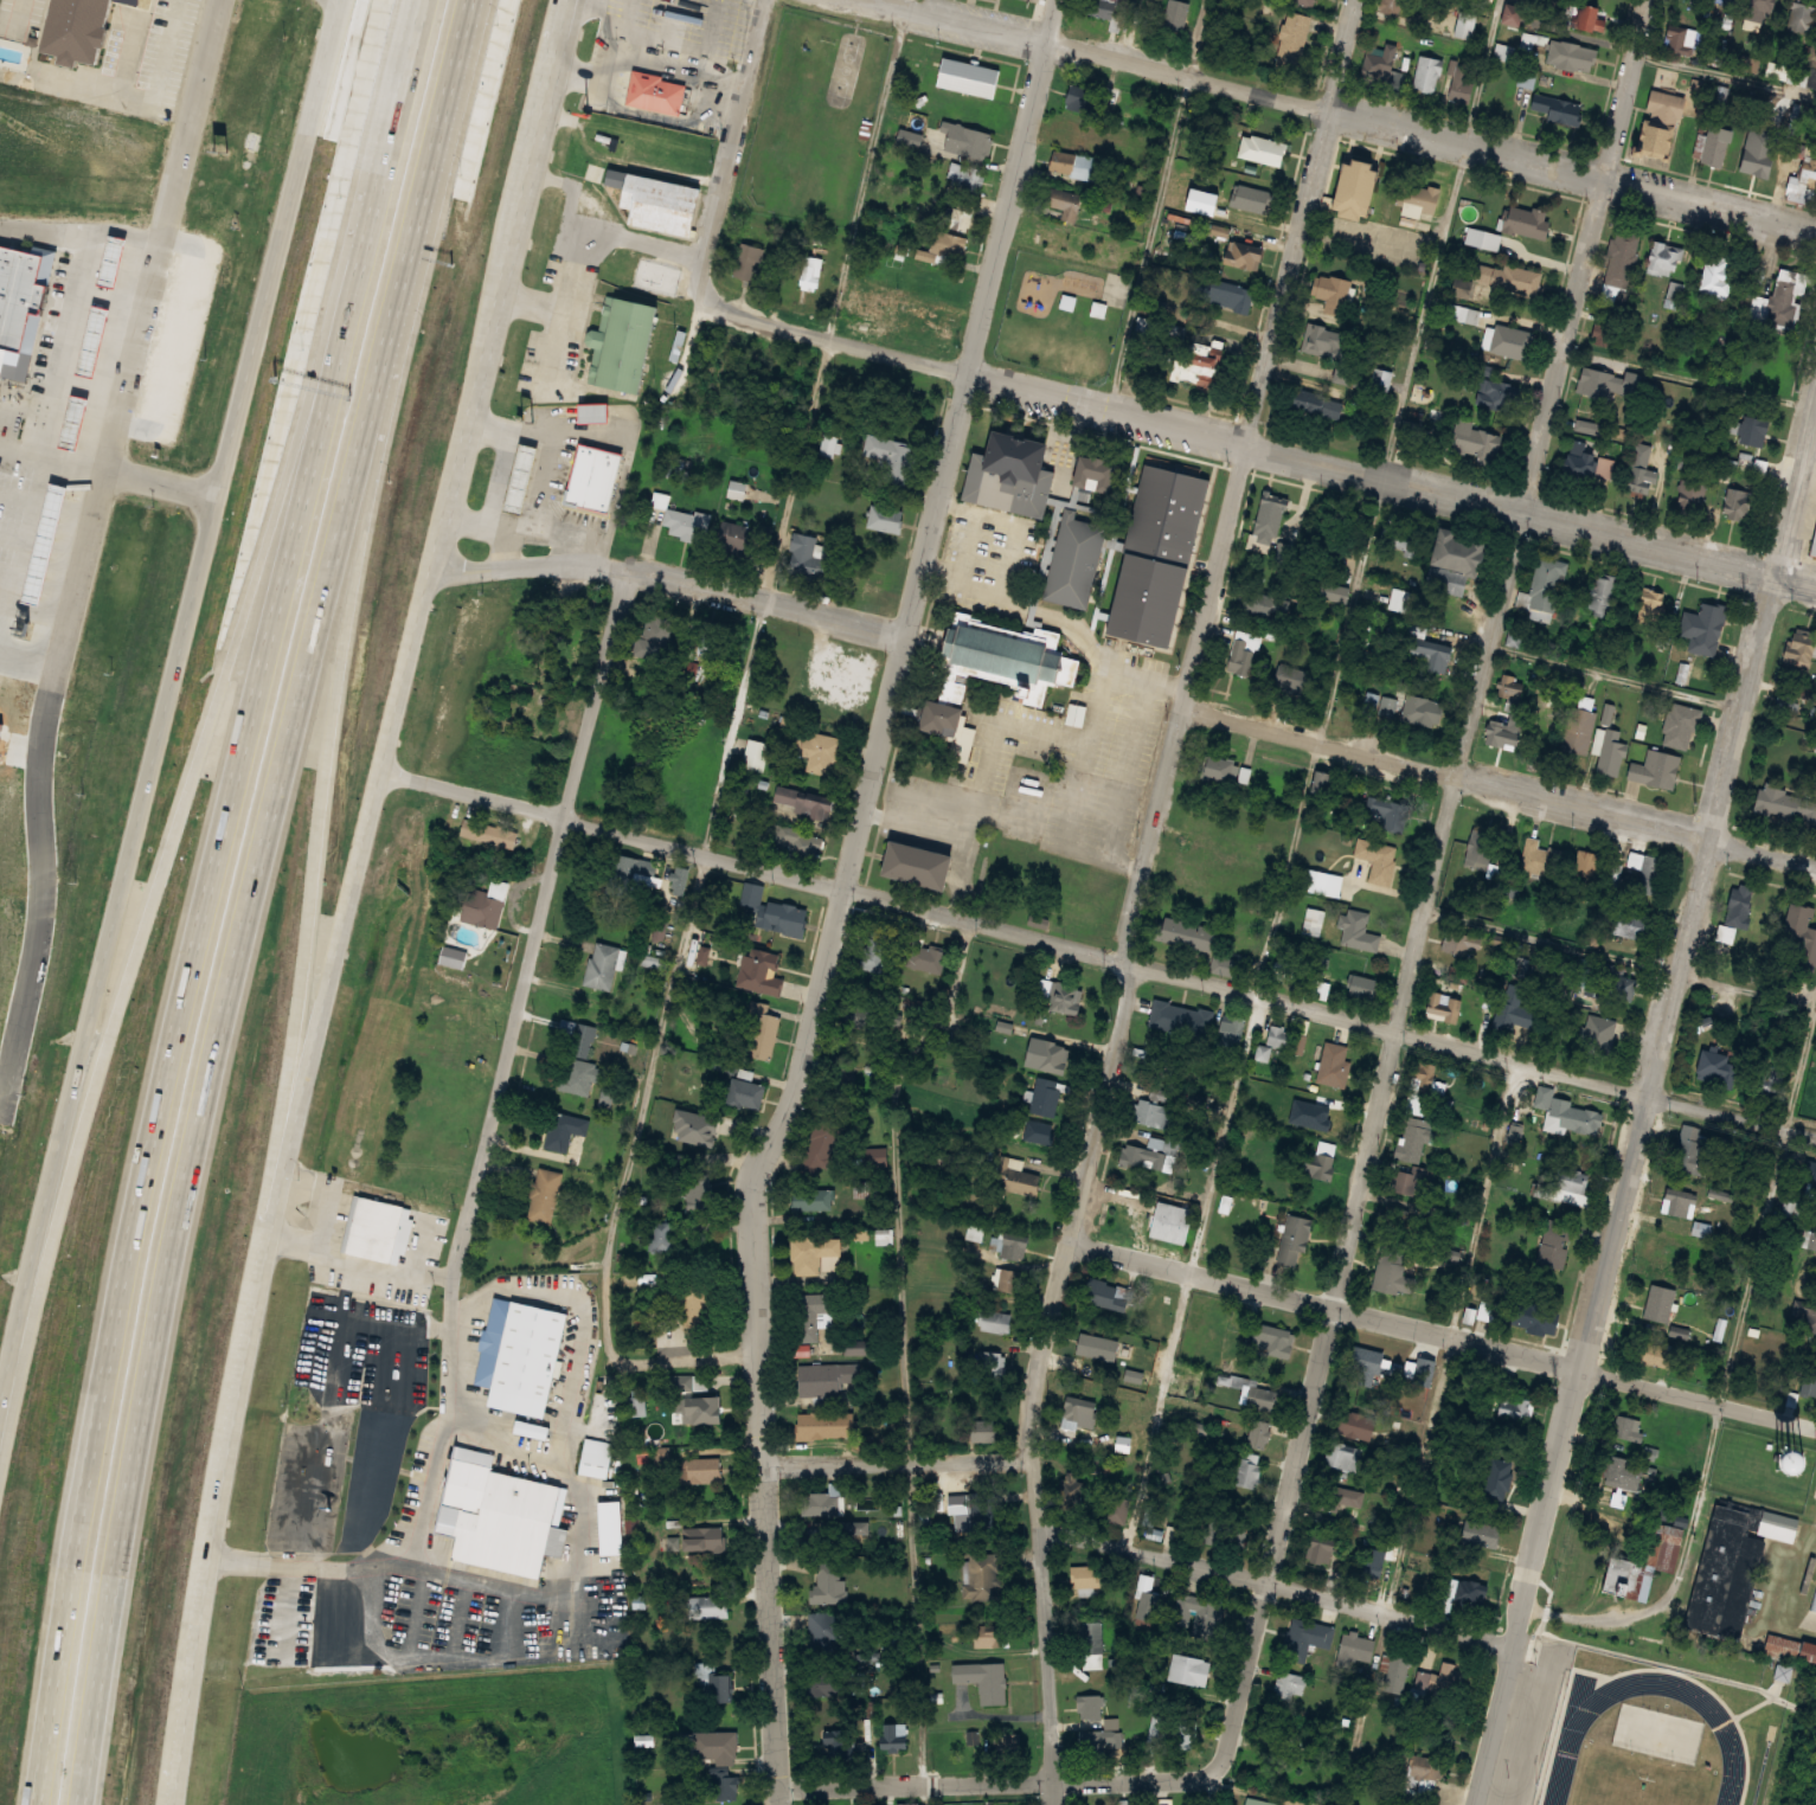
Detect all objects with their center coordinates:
building: (1033, 0)
building: (1390, 6)
building: (1102, 8)
building: (1508, 14)
building: (1795, 15)
building: (1179, 17)
building: (1585, 19)
road: (31, 20)
road: (1047, 20)
building: (1463, 25)
building: (96, 32)
building: (1677, 37)
building: (1294, 38)
road: (413, 39)
building: (1529, 40)
building: (1568, 56)
road: (1343, 57)
park: (845, 66)
building: (1384, 75)
building: (1425, 75)
road: (1726, 75)
building: (1811, 77)
building: (970, 78)
building: (1458, 81)
road: (551, 89)
road: (1626, 90)
building: (653, 92)
building: (1083, 101)
road: (160, 103)
building: (1663, 104)
building: (1553, 107)
road: (1345, 116)
park: (807, 121)
building: (910, 139)
building: (1653, 139)
building: (969, 140)
building: (617, 143)
building: (1715, 146)
road: (727, 149)
building: (1265, 150)
building: (1752, 161)
building: (1076, 165)
park: (776, 174)
building: (967, 178)
building: (1802, 184)
building: (1348, 187)
building: (1414, 198)
building: (1250, 199)
building: (657, 203)
road: (1157, 206)
building: (1066, 207)
building: (955, 219)
building: (1525, 223)
road: (78, 230)
building: (948, 246)
building: (1239, 257)
building: (1663, 257)
building: (122, 261)
gas station: (122, 261)
building: (745, 262)
building: (1619, 264)
building: (810, 274)
building: (1504, 276)
building: (1714, 276)
building: (1331, 293)
building: (1674, 293)
building: (1231, 296)
building: (28, 297)
building: (1777, 300)
park: (1061, 314)
building: (1467, 314)
building: (935, 319)
building: (1161, 327)
building: (1608, 329)
building: (1322, 339)
building: (104, 340)
gas station: (104, 340)
building: (623, 341)
building: (1513, 341)
road: (76, 343)
road: (129, 343)
building: (1192, 368)
building: (1384, 379)
road: (1689, 379)
building: (1600, 383)
power tower: (1801, 390)
building: (1320, 405)
building: (597, 413)
parking lot: (19, 417)
building: (85, 420)
gas station: (85, 420)
building: (1591, 426)
building: (1751, 430)
road: (576, 433)
building: (1474, 438)
building: (832, 447)
road: (1256, 449)
road: (514, 454)
road: (49, 456)
building: (893, 458)
building: (1589, 463)
building: (1750, 463)
building: (1642, 470)
building: (1007, 476)
building: (525, 478)
gas station: (525, 478)
building: (596, 478)
road: (547, 481)
road: (162, 482)
building: (738, 490)
building: (1689, 500)
building: (1738, 503)
building: (886, 521)
building: (1265, 523)
building: (687, 525)
road: (514, 528)
building: (1400, 537)
building: (739, 538)
building: (1814, 542)
road: (586, 548)
road: (506, 550)
building: (1157, 554)
building: (809, 555)
building: (1072, 560)
building: (1450, 563)
road: (669, 580)
building: (1545, 585)
building: (1604, 595)
power tower: (1750, 597)
building: (1650, 608)
building: (1702, 627)
building: (710, 638)
building: (649, 641)
building: (1801, 645)
building: (1426, 649)
building: (1244, 651)
building: (1006, 659)
building: (1292, 679)
road: (1618, 679)
building: (1412, 708)
road: (169, 712)
building: (935, 717)
building: (1680, 726)
building: (1578, 730)
building: (1503, 734)
building: (1611, 751)
building: (821, 753)
building: (756, 754)
road: (723, 757)
building: (1224, 769)
building: (1655, 769)
road: (1314, 775)
road: (194, 783)
road: (327, 786)
road: (1497, 786)
power tower: (1699, 802)
building: (807, 804)
building: (1784, 804)
building: (1194, 822)
building: (469, 829)
building: (798, 844)
building: (1480, 848)
building: (1540, 857)
building: (1378, 859)
building: (907, 863)
building: (1586, 863)
building: (1645, 871)
building: (1185, 872)
building: (622, 875)
building: (1323, 882)
road: (252, 897)
road: (353, 897)
road: (41, 899)
building: (1738, 904)
building: (480, 908)
building: (1077, 913)
road: (832, 917)
building: (787, 918)
building: (1628, 923)
building: (1360, 930)
building: (1183, 932)
road: (203, 937)
building: (1799, 940)
building: (1457, 943)
road: (532, 948)
building: (874, 951)
road: (1130, 952)
road: (1097, 955)
road: (1622, 956)
building: (925, 958)
building: (1521, 965)
building: (603, 966)
building: (1283, 969)
building: (761, 971)
road: (1412, 974)
power tower: (1655, 976)
building: (1616, 981)
building: (1362, 985)
building: (1320, 989)
building: (1444, 1006)
building: (865, 1017)
building: (1181, 1019)
building: (1232, 1029)
building: (1600, 1032)
building: (763, 1035)
building: (1277, 1036)
building: (1052, 1055)
building: (580, 1064)
building: (1334, 1064)
building: (839, 1072)
building: (747, 1096)
building: (1046, 1096)
building: (1416, 1103)
building: (1153, 1113)
building: (1574, 1116)
road: (1644, 1116)
building: (1038, 1130)
building: (565, 1131)
building: (820, 1139)
building: (1413, 1141)
building: (1694, 1149)
building: (873, 1156)
building: (1143, 1156)
building: (590, 1157)
building: (1320, 1160)
power tower: (1606, 1173)
building: (1019, 1177)
building: (1810, 1178)
building: (1401, 1182)
building: (1571, 1186)
building: (868, 1187)
building: (698, 1193)
building: (545, 1196)
building: (809, 1199)
building: (1680, 1201)
building: (1227, 1203)
building: (1399, 1219)
building: (1169, 1221)
building: (377, 1231)
building: (662, 1238)
building: (1294, 1240)
building: (1810, 1240)
building: (1555, 1242)
road: (422, 1246)
building: (1009, 1247)
building: (1664, 1247)
building: (810, 1253)
building: (1391, 1264)
building: (1009, 1279)
building: (1658, 1303)
building: (693, 1305)
building: (1810, 1308)
building: (811, 1313)
road: (1745, 1315)
building: (1534, 1316)
building: (995, 1321)
road: (1444, 1335)
building: (1272, 1341)
building: (1098, 1347)
building: (1651, 1353)
road: (909, 1355)
building: (999, 1362)
building: (1368, 1364)
building: (824, 1376)
road: (339, 1379)
power tower: (1559, 1387)
building: (1258, 1396)
building: (695, 1399)
building: (1515, 1407)
building: (1353, 1424)
building: (822, 1425)
building: (533, 1430)
building: (1628, 1430)
road: (381, 1433)
building: (1259, 1433)
road: (1431, 1434)
water tower: (1792, 1456)
building: (1346, 1457)
building: (595, 1458)
road: (896, 1462)
building: (702, 1471)
building: (1249, 1471)
building: (1622, 1473)
building: (1499, 1477)
building: (1339, 1497)
building: (816, 1503)
building: (1661, 1512)
building: (509, 1516)
building: (1773, 1520)
building: (1240, 1529)
building: (1481, 1533)
building: (704, 1539)
building: (821, 1539)
building: (1317, 1553)
road: (428, 1555)
building: (1644, 1562)
building: (983, 1575)
building: (1089, 1576)
building: (827, 1582)
road: (1277, 1585)
building: (1727, 1591)
building: (1146, 1597)
building: (1215, 1600)
building: (706, 1607)
power tower: (1503, 1615)
building: (1814, 1617)
road: (1598, 1619)
building: (826, 1630)
building: (1303, 1639)
building: (892, 1643)
building: (1092, 1644)
building: (1790, 1647)
building: (1356, 1649)
building: (1186, 1669)
building: (1395, 1674)
building: (983, 1678)
building: (829, 1682)
building: (1291, 1684)
building: (712, 1685)
building: (1090, 1707)
building: (1185, 1732)
park: (1656, 1735)
building: (893, 1736)
building: (1099, 1741)
track: (1728, 1743)
building: (841, 1745)
building: (1008, 1746)
building: (712, 1747)
building: (1426, 1766)
road: (1000, 1781)
building: (719, 1787)
building: (1254, 1800)
building: (907, 1803)
building: (1189, 1804)

